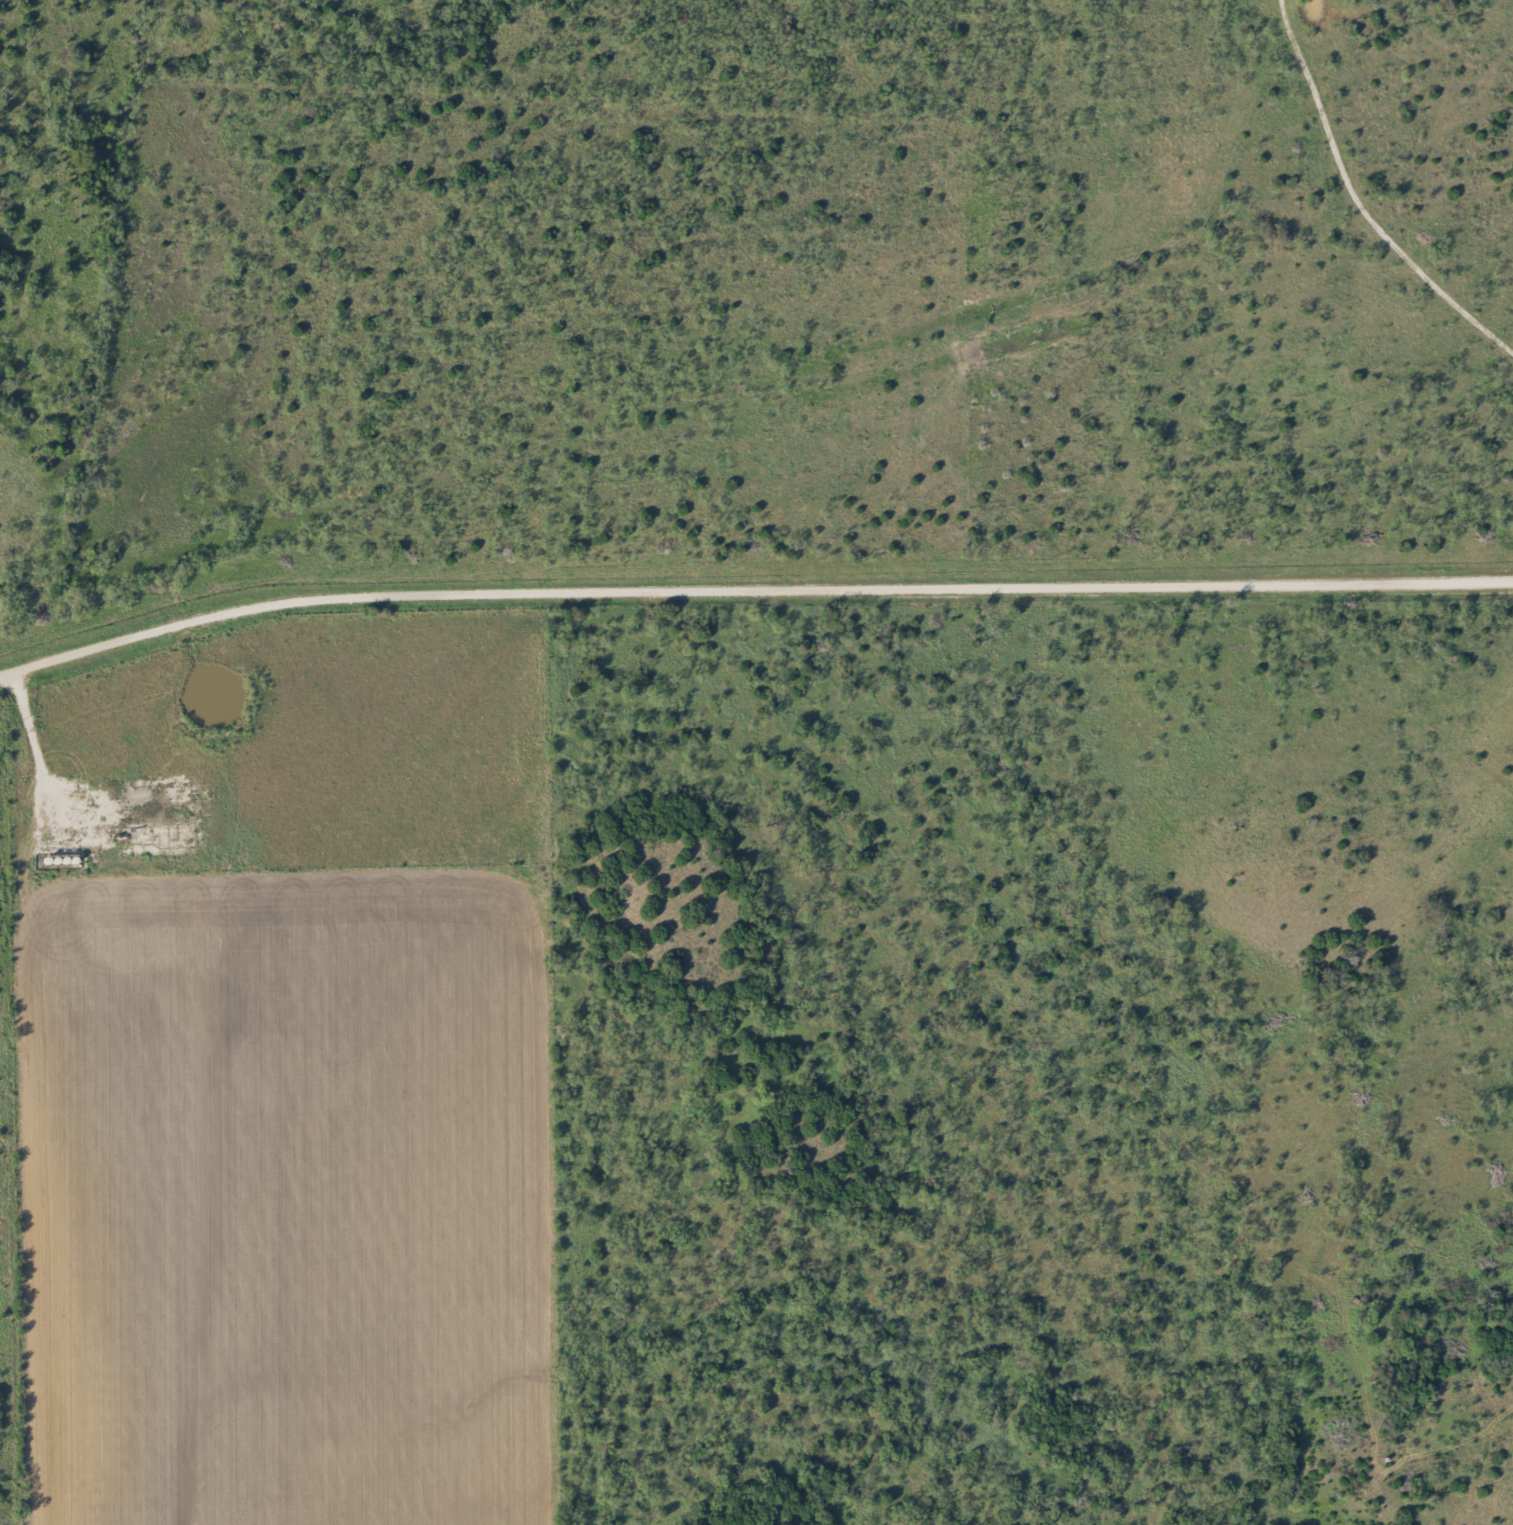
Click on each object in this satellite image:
railway: (755, 392)
road: (751, 585)

